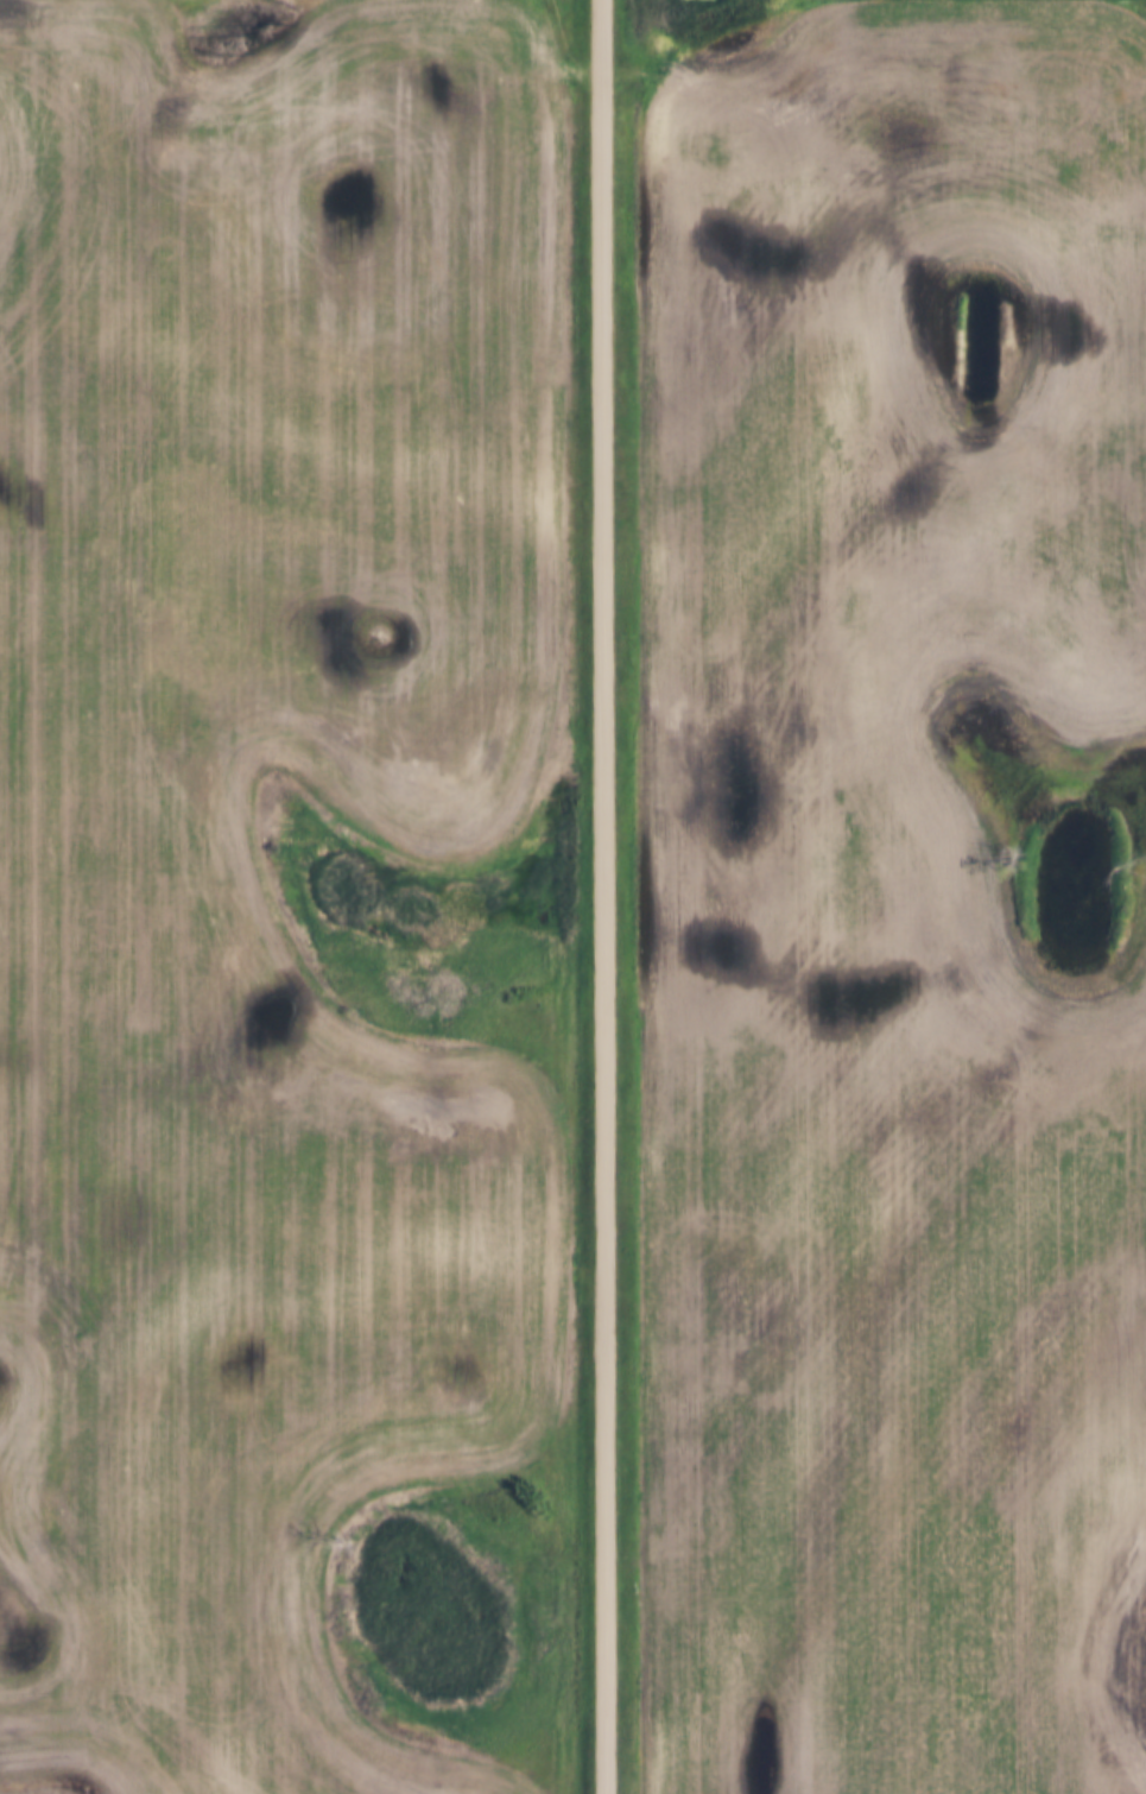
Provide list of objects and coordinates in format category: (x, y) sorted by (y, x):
road: (608, 897)

